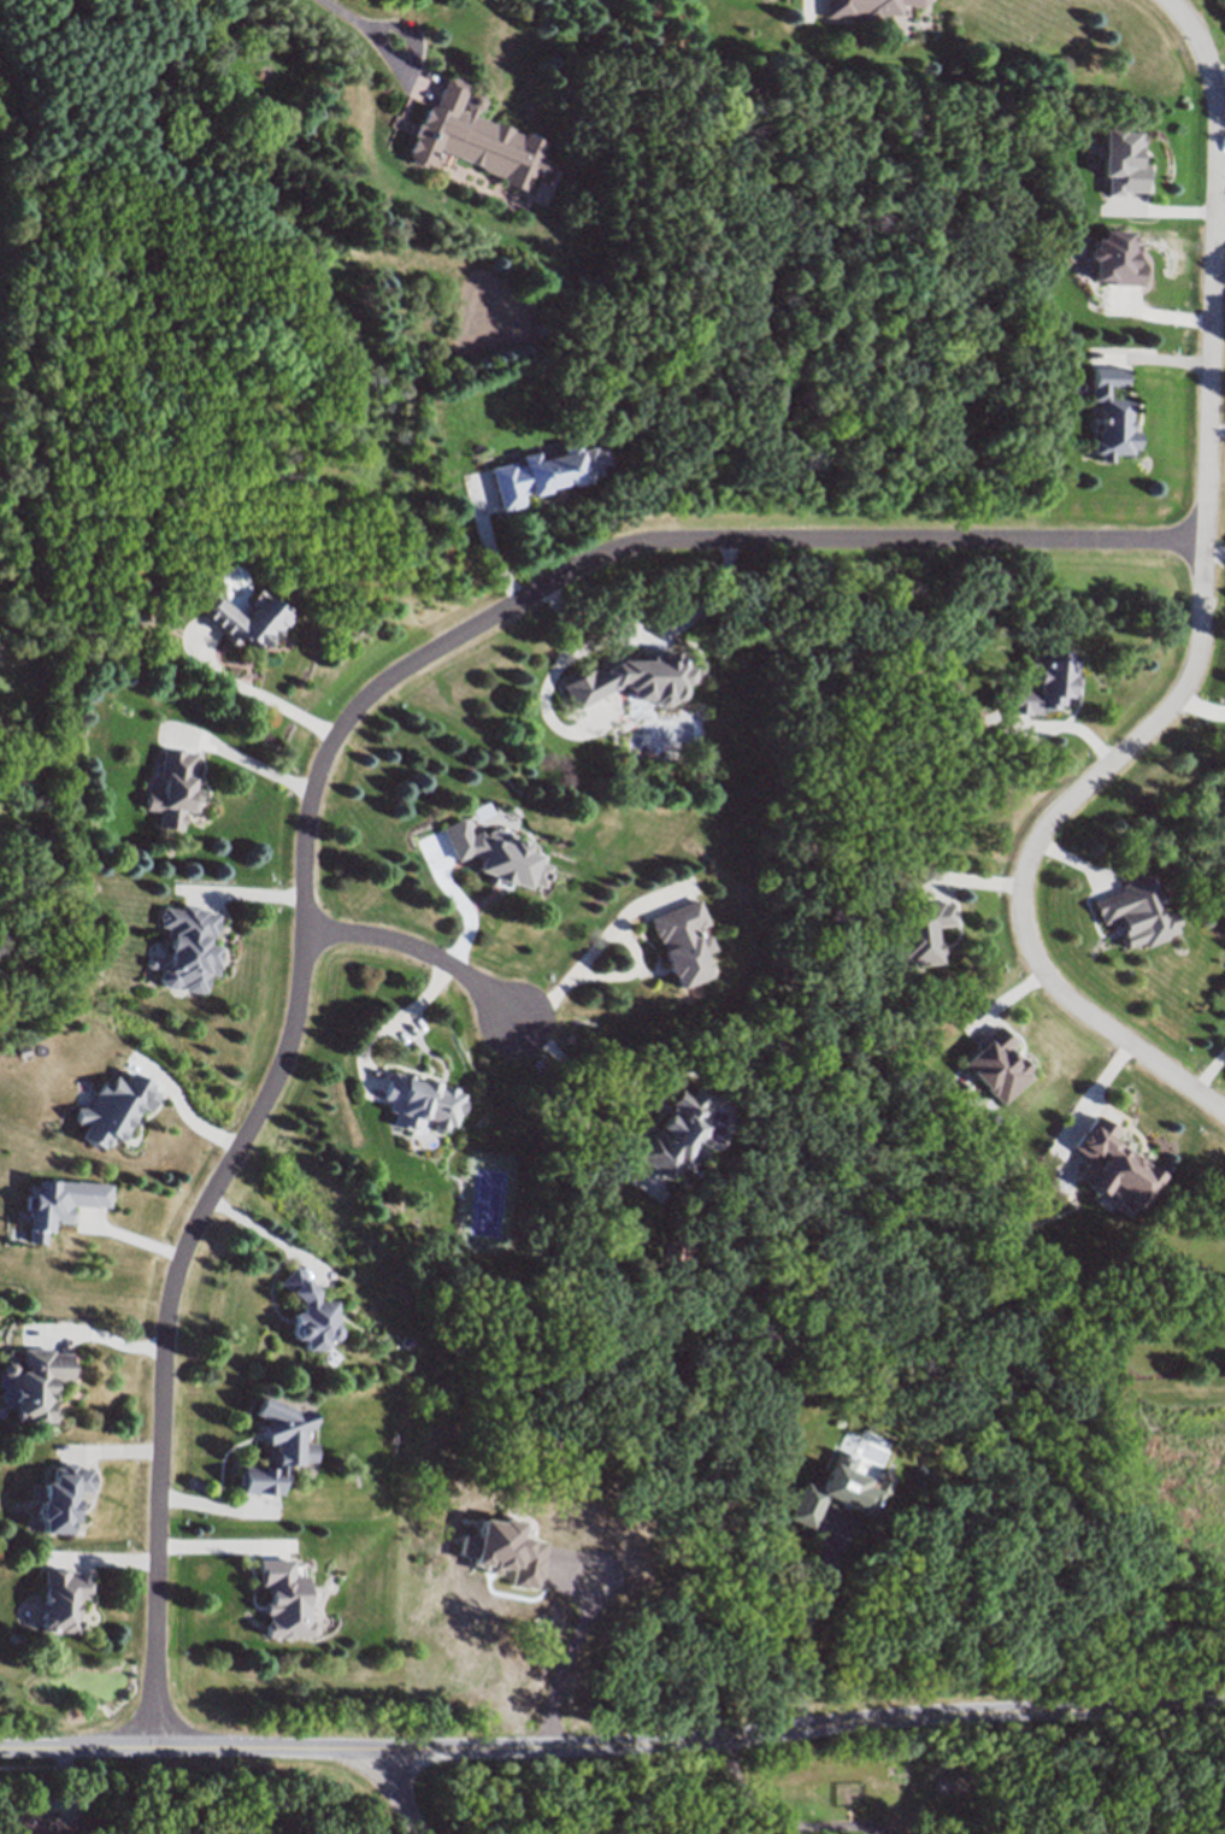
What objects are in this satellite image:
road: (809, 7)
building: (867, 8)
road: (373, 36)
road: (2, 67)
building: (426, 82)
building: (473, 140)
building: (1120, 163)
building: (1113, 261)
road: (1212, 264)
building: (1109, 417)
building: (540, 477)
building: (246, 618)
park: (28, 621)
road: (646, 634)
building: (634, 677)
building: (1037, 682)
road: (259, 698)
road: (240, 762)
road: (7, 787)
building: (173, 787)
road: (313, 790)
park: (821, 807)
road: (1037, 843)
building: (497, 853)
road: (240, 895)
road: (465, 900)
building: (1133, 912)
building: (918, 930)
building: (187, 946)
building: (683, 946)
road: (594, 947)
road: (419, 951)
road: (391, 1022)
building: (990, 1064)
road: (593, 1093)
building: (420, 1100)
building: (112, 1107)
road: (183, 1109)
building: (673, 1133)
building: (1108, 1165)
road: (269, 1235)
road: (122, 1236)
building: (308, 1312)
road: (96, 1335)
building: (34, 1385)
building: (277, 1448)
building: (841, 1493)
building: (59, 1499)
road: (224, 1545)
building: (60, 1601)
building: (287, 1603)
road: (584, 1606)
road: (803, 1635)
park: (205, 1701)
road: (212, 1716)
road: (811, 1728)
road: (198, 1748)
road: (399, 1793)
building: (848, 1795)
building: (48, 1822)
road: (787, 1822)

